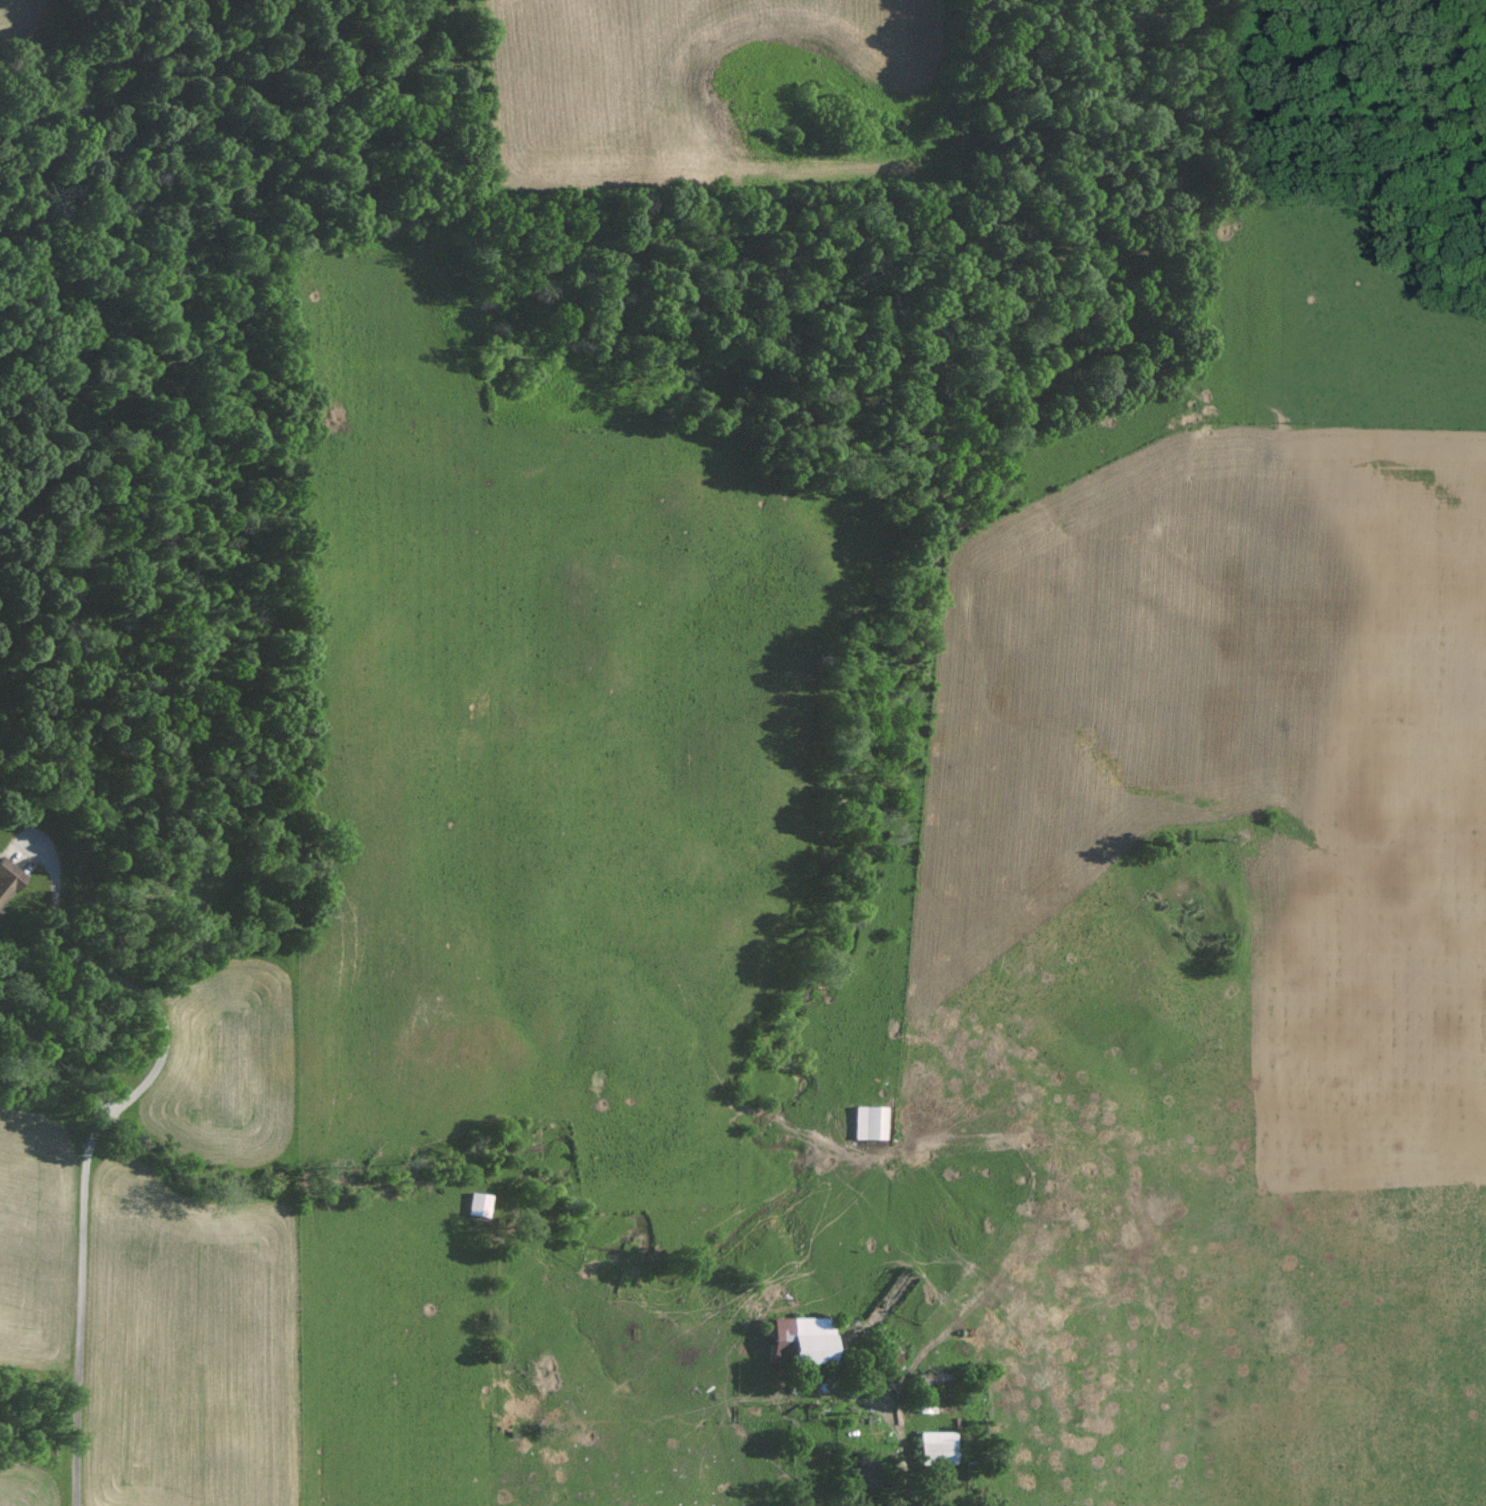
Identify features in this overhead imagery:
building: (9, 879)
building: (872, 1121)
building: (481, 1203)
building: (807, 1338)
building: (940, 1447)
road: (901, 1450)
building: (871, 1479)

